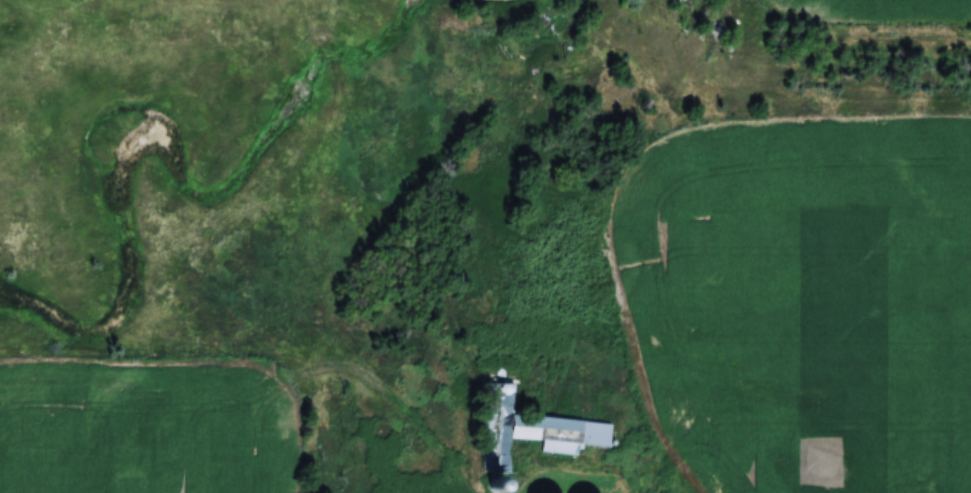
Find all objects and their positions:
crop: (877, 6)
crop: (801, 295)
building: (529, 430)

